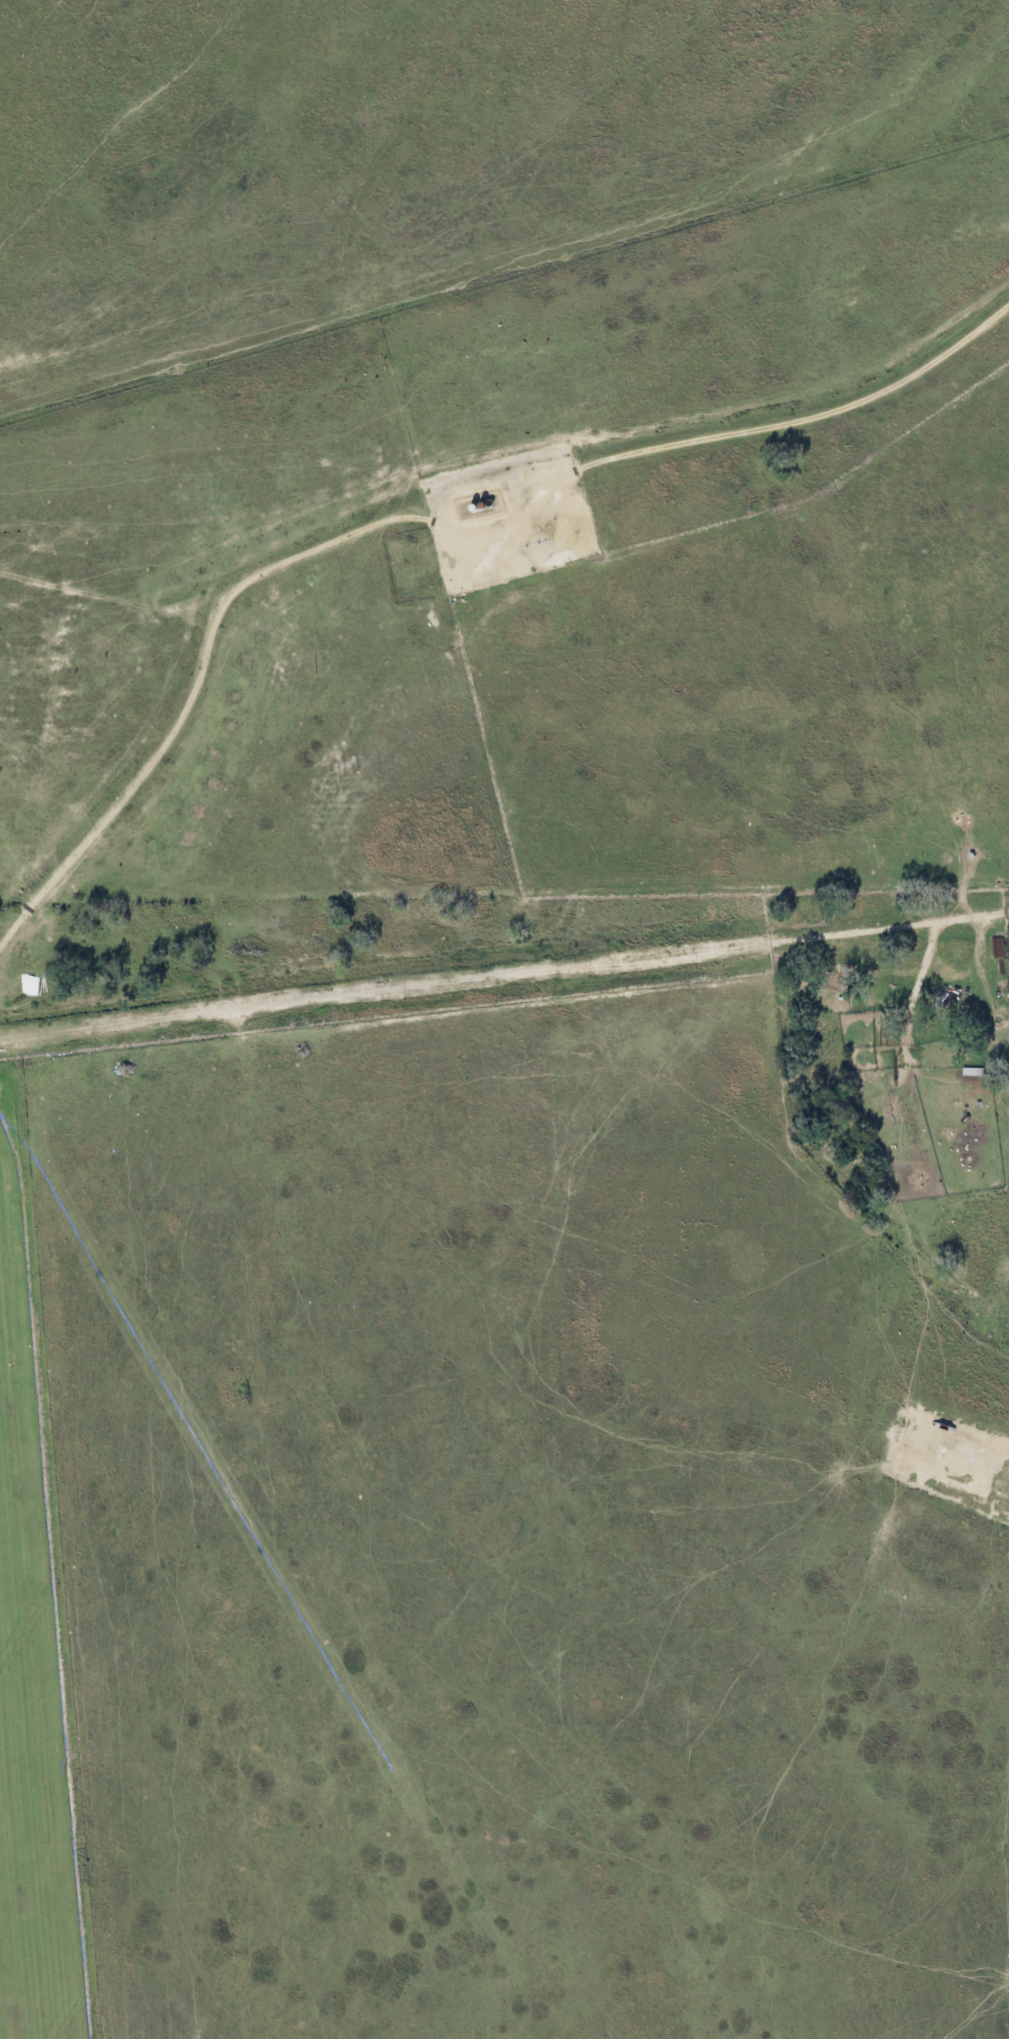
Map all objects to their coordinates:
road: (190, 677)
building: (948, 955)
road: (504, 970)
road: (914, 980)

